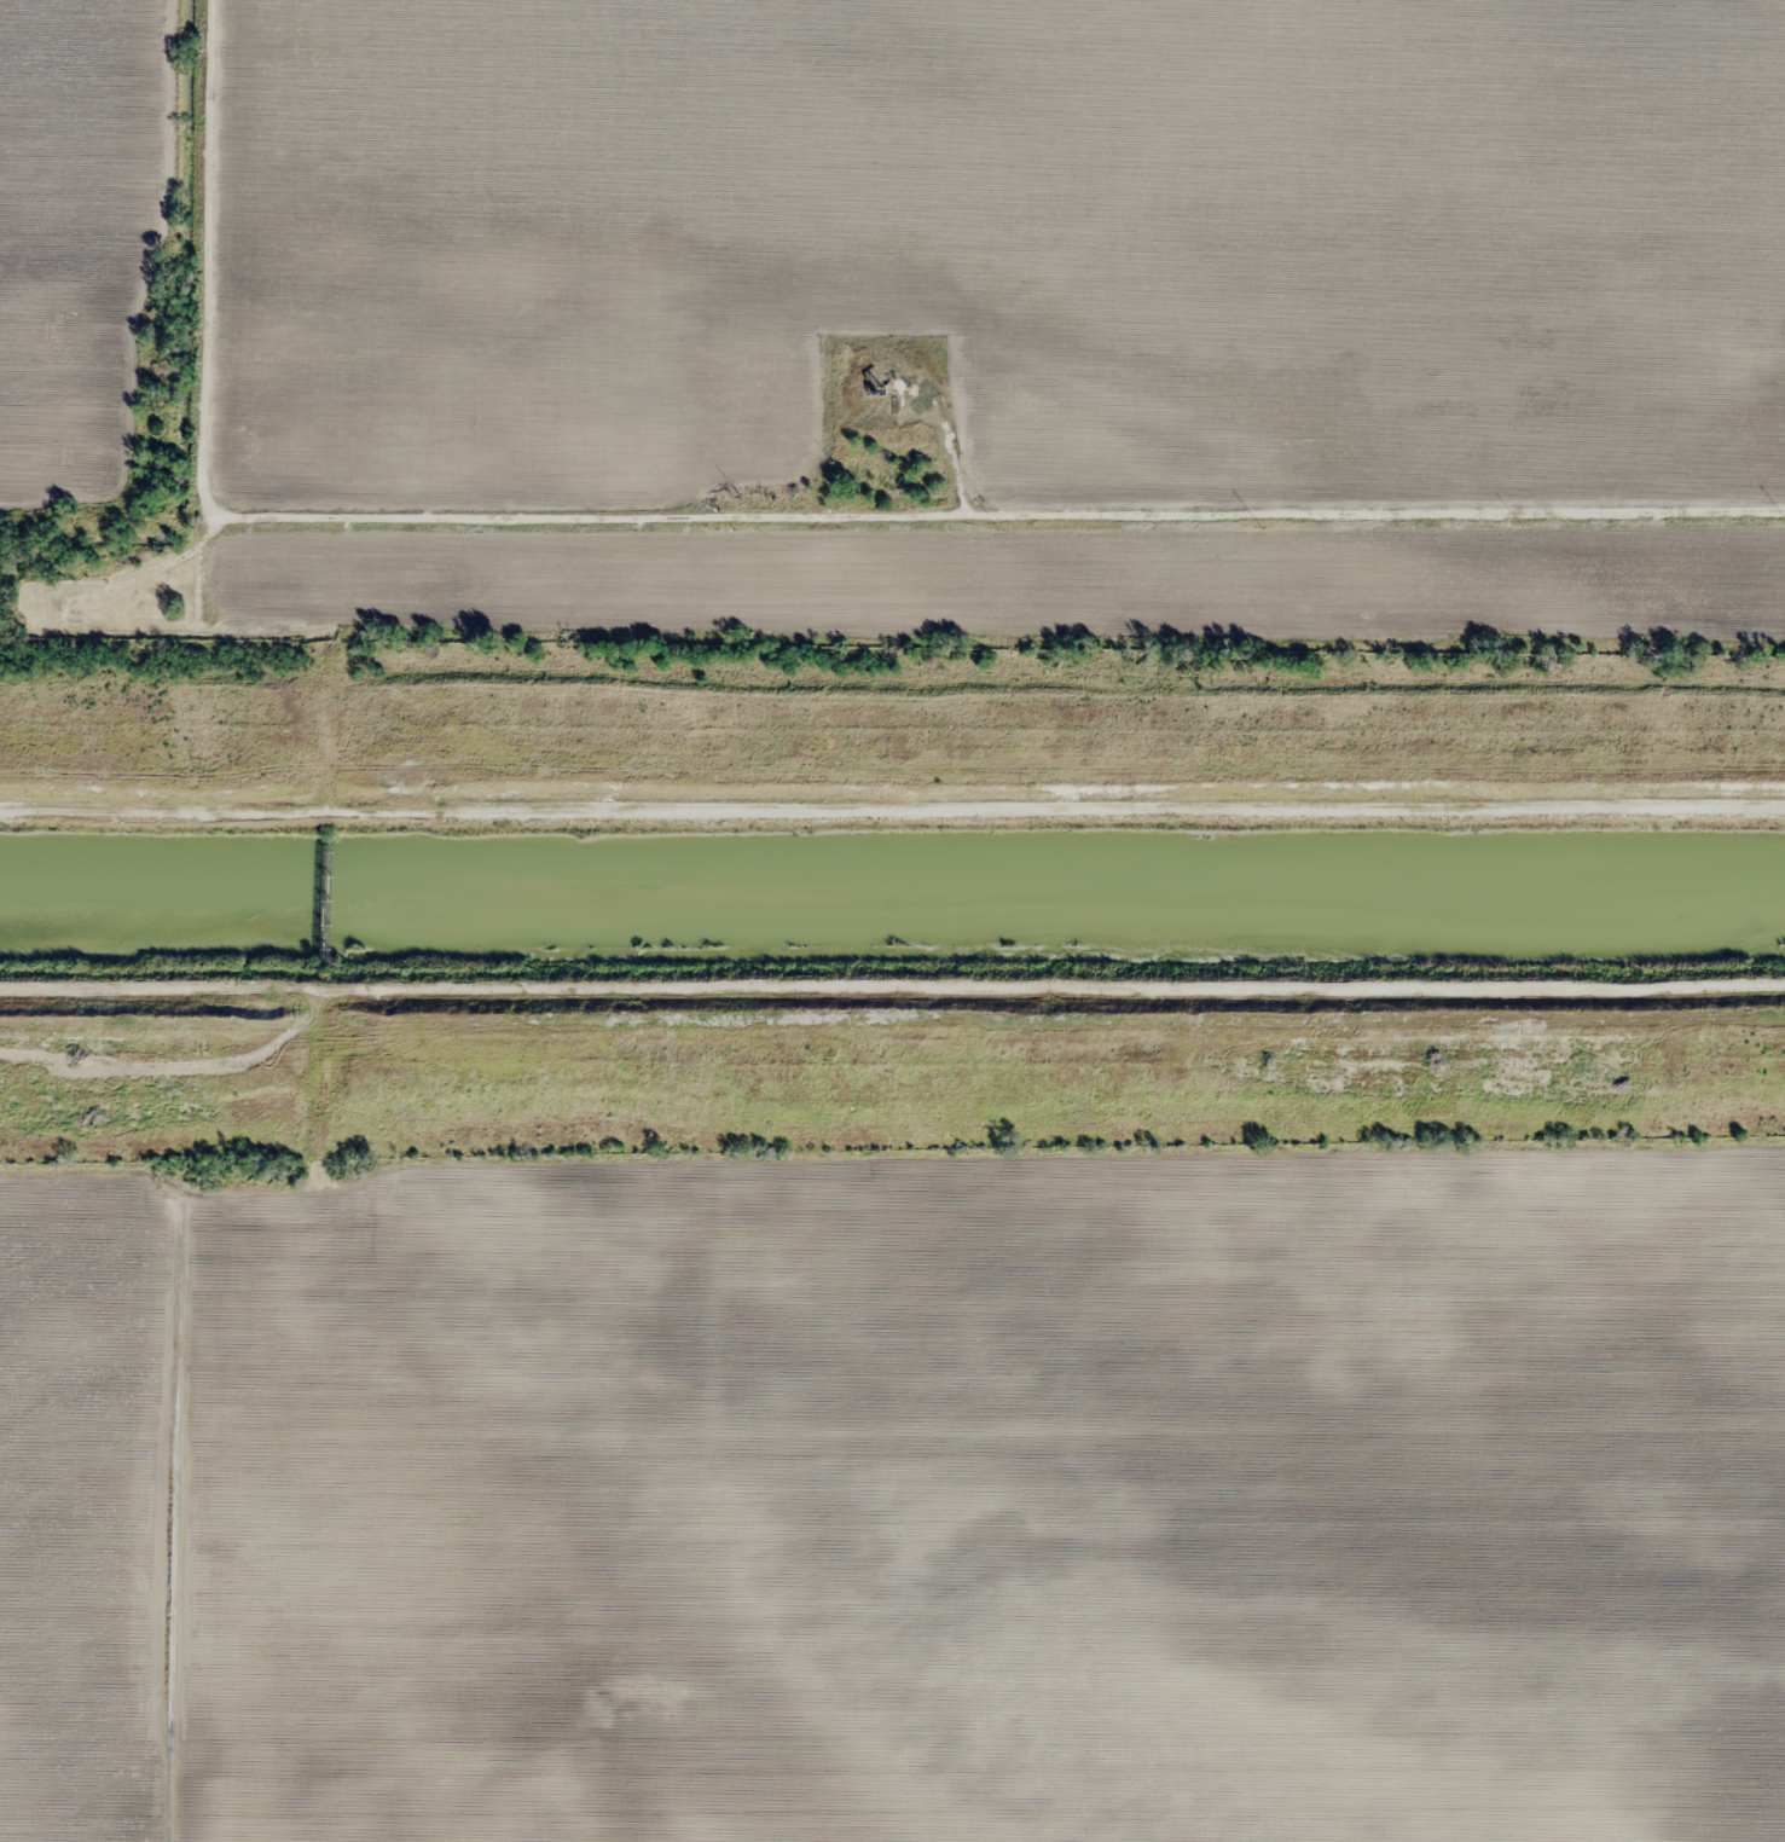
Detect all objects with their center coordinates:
road: (985, 532)
road: (176, 921)
road: (892, 1437)

